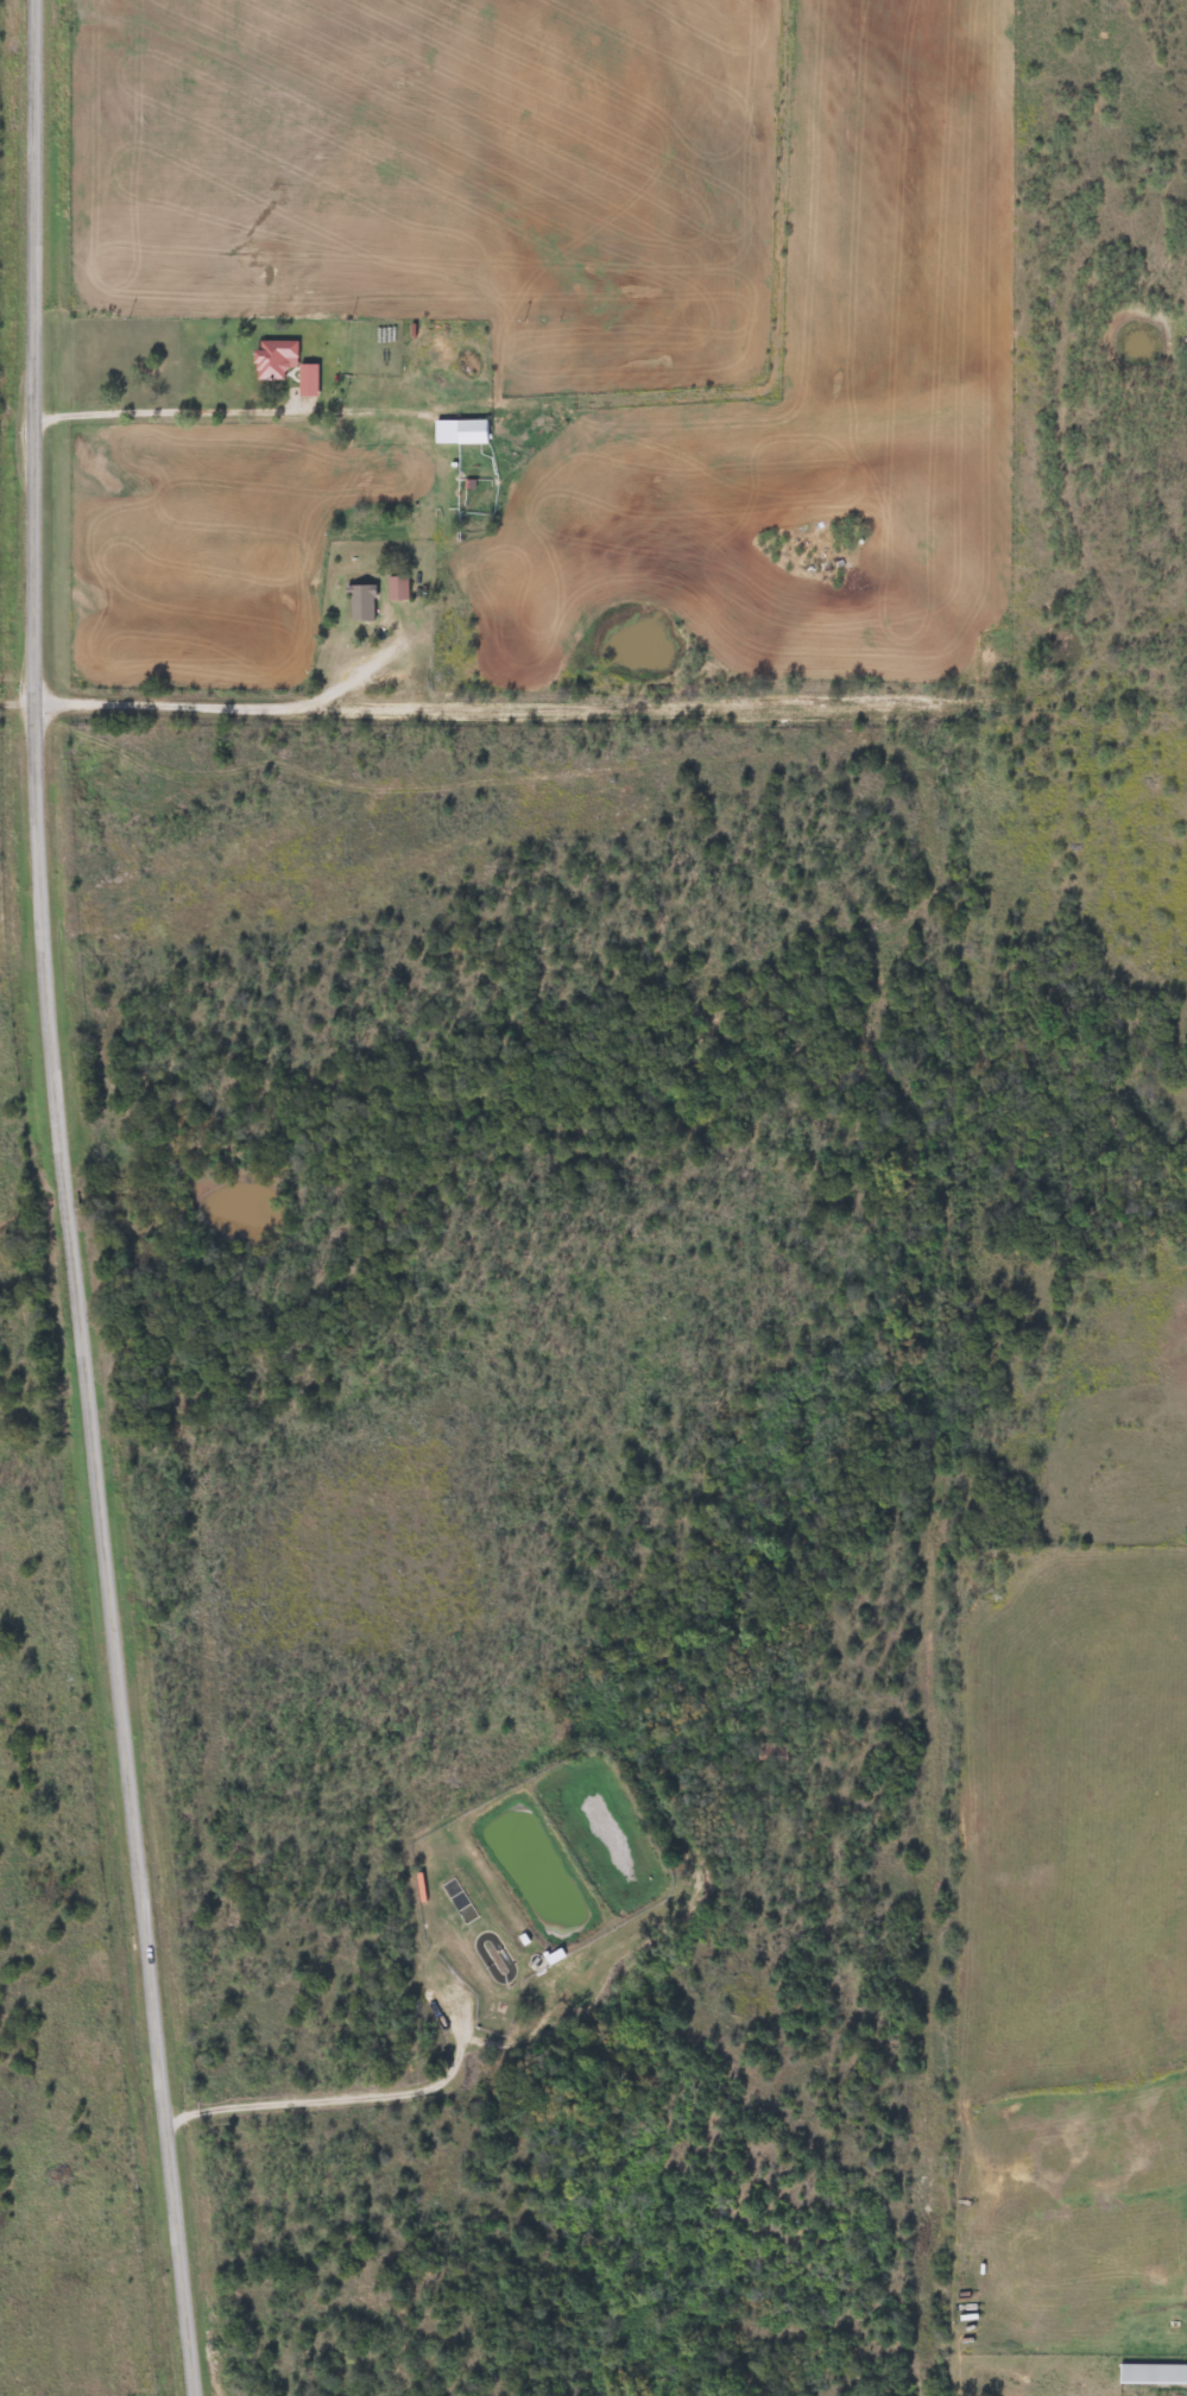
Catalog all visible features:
road: (239, 327)
building: (273, 359)
building: (469, 432)
building: (397, 588)
building: (360, 602)
road: (524, 707)
road: (67, 1200)
building: (1151, 2375)

